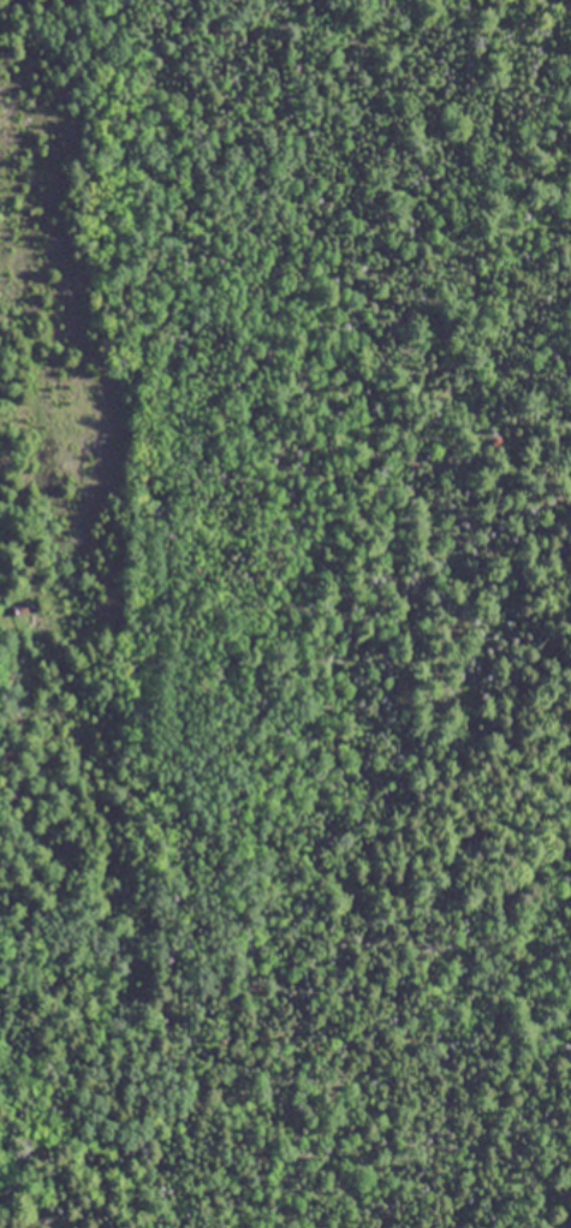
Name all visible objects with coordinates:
road: (567, 0)
building: (18, 609)

